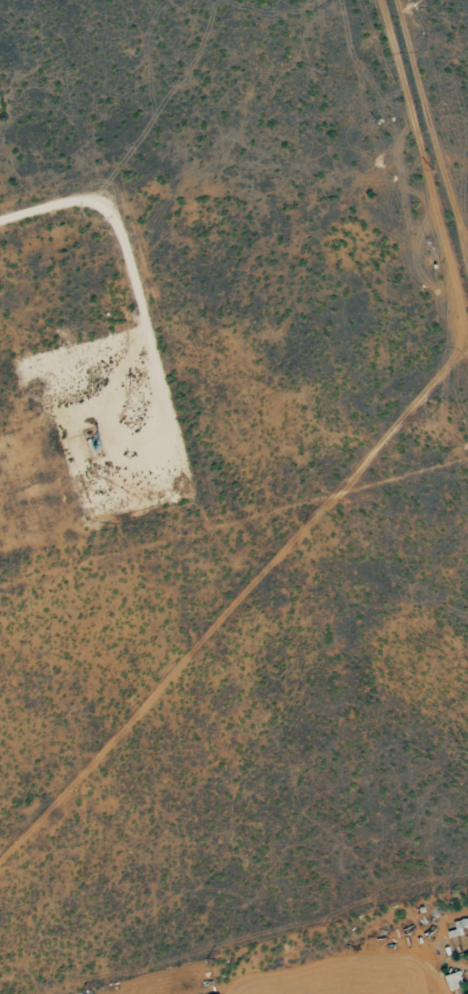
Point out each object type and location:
building: (457, 928)
building: (455, 981)

